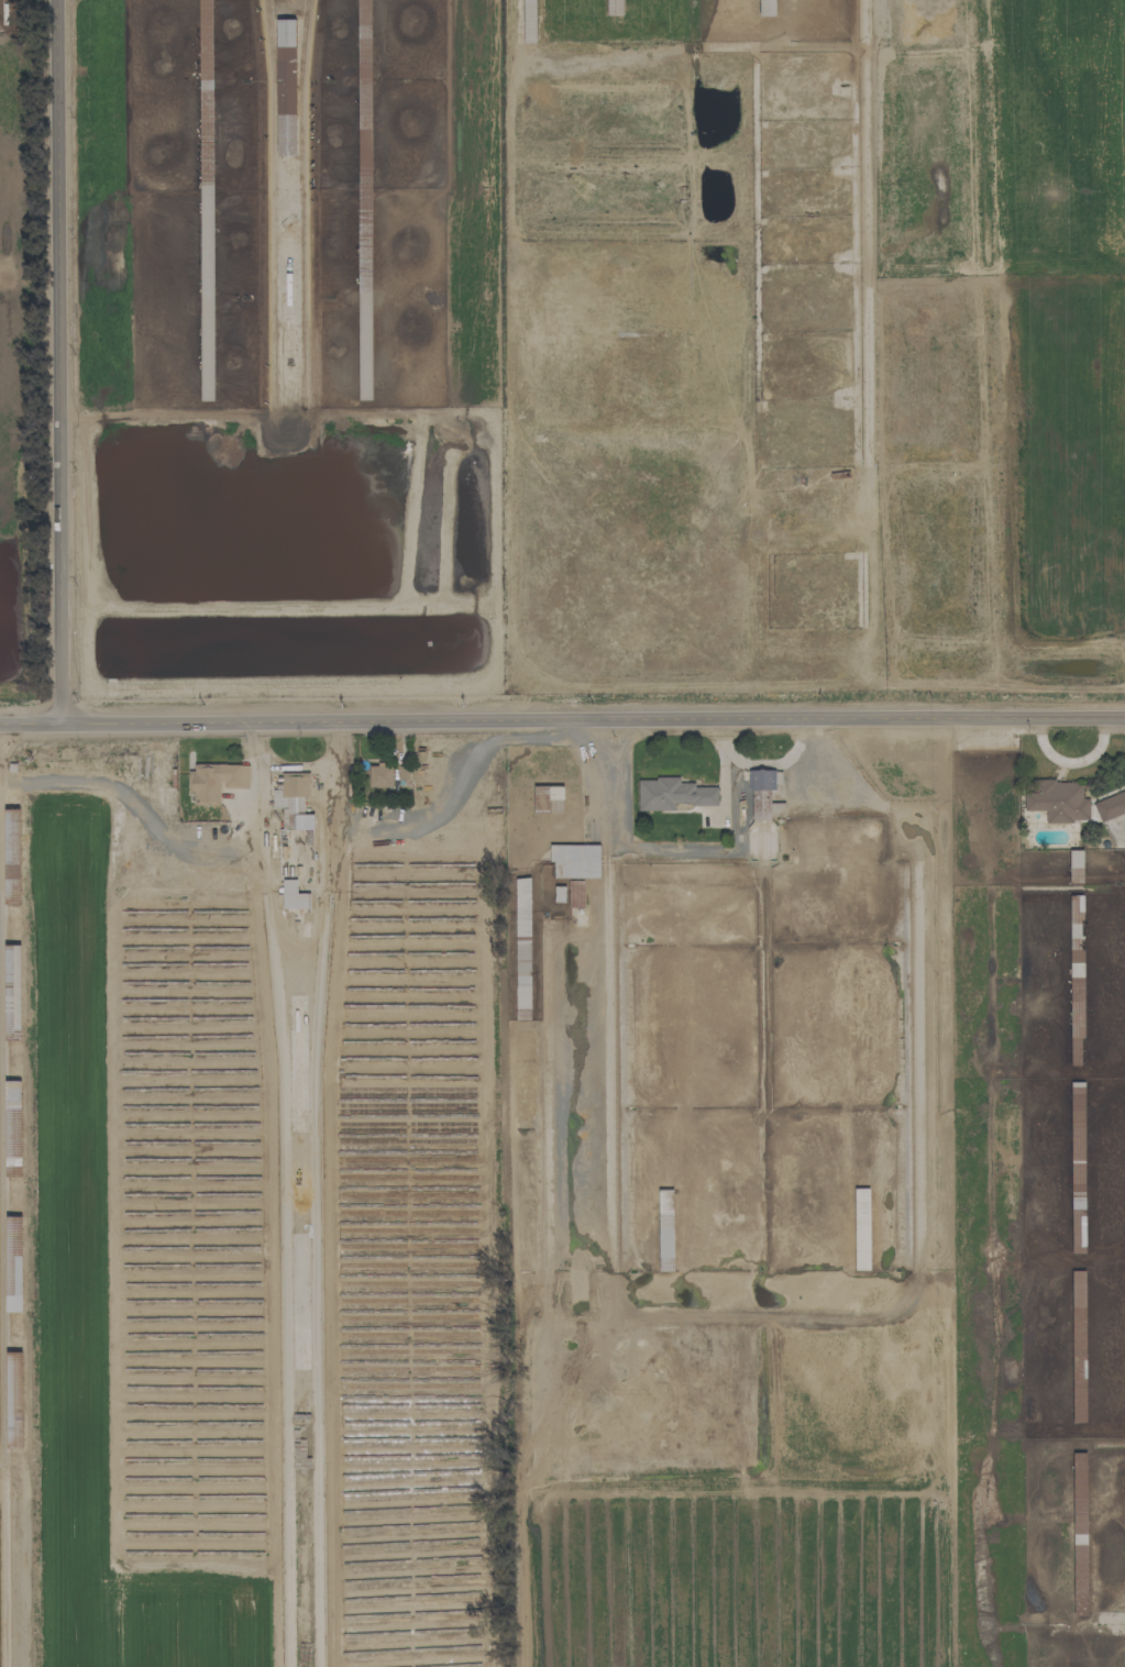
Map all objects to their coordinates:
building: (615, 7)
building: (364, 8)
building: (766, 8)
building: (286, 87)
building: (207, 298)
crop: (1057, 334)
road: (57, 362)
road: (592, 719)
road: (30, 724)
road: (760, 766)
building: (379, 776)
building: (216, 781)
building: (672, 794)
building: (764, 795)
building: (548, 798)
building: (295, 801)
building: (1058, 801)
building: (1110, 806)
road: (653, 848)
building: (12, 855)
building: (575, 861)
building: (1076, 866)
building: (560, 894)
building: (575, 894)
building: (294, 896)
road: (296, 945)
building: (12, 991)
building: (522, 1074)
building: (12, 1092)
building: (1077, 1093)
building: (13, 1140)
building: (1078, 1215)
building: (861, 1228)
building: (665, 1229)
building: (13, 1263)
building: (1078, 1346)
building: (14, 1399)
building: (1079, 1534)

